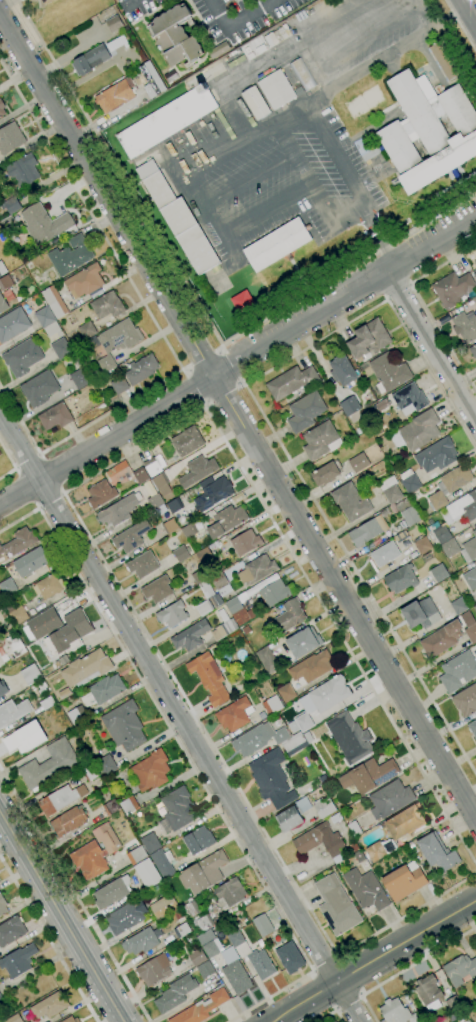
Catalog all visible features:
road: (475, 0)
building: (45, 2)
road: (469, 11)
building: (108, 14)
road: (238, 20)
building: (114, 24)
road: (460, 26)
building: (175, 36)
building: (116, 43)
building: (218, 50)
building: (90, 60)
building: (445, 60)
building: (302, 74)
building: (170, 76)
building: (151, 79)
building: (276, 89)
building: (115, 95)
building: (256, 103)
road: (304, 104)
building: (2, 109)
road: (109, 113)
building: (167, 121)
building: (427, 131)
building: (10, 138)
building: (23, 171)
building: (10, 205)
building: (178, 219)
building: (8, 221)
building: (44, 224)
building: (277, 244)
building: (70, 256)
building: (475, 262)
building: (2, 269)
building: (36, 277)
building: (84, 281)
building: (5, 282)
building: (453, 289)
road: (400, 294)
road: (194, 299)
building: (474, 299)
building: (54, 302)
building: (241, 302)
building: (2, 304)
building: (107, 305)
road: (424, 306)
building: (44, 316)
road: (152, 320)
building: (13, 324)
building: (465, 326)
building: (52, 329)
building: (87, 330)
building: (368, 339)
building: (113, 342)
road: (432, 345)
building: (61, 348)
building: (473, 350)
road: (202, 357)
building: (22, 358)
road: (237, 363)
road: (233, 365)
building: (141, 369)
building: (342, 370)
building: (389, 372)
building: (79, 379)
building: (292, 382)
building: (119, 385)
building: (39, 389)
road: (193, 389)
road: (224, 396)
building: (409, 399)
building: (382, 405)
building: (350, 406)
building: (305, 412)
road: (237, 415)
building: (55, 416)
building: (420, 430)
road: (273, 433)
building: (321, 440)
building: (187, 441)
building: (436, 455)
road: (27, 460)
building: (154, 462)
building: (358, 462)
road: (13, 463)
building: (197, 471)
building: (325, 474)
building: (369, 474)
building: (140, 475)
building: (409, 481)
building: (161, 484)
building: (449, 485)
building: (391, 489)
building: (100, 494)
building: (213, 494)
road: (63, 495)
road: (50, 501)
building: (155, 501)
building: (350, 502)
building: (174, 506)
building: (393, 508)
building: (461, 509)
building: (162, 510)
building: (118, 511)
building: (407, 512)
building: (226, 521)
building: (170, 526)
building: (188, 530)
building: (368, 530)
building: (439, 535)
building: (131, 536)
building: (400, 537)
building: (202, 540)
building: (19, 542)
building: (245, 543)
building: (422, 545)
building: (448, 547)
building: (181, 554)
building: (384, 554)
building: (204, 556)
building: (31, 562)
building: (142, 565)
building: (256, 570)
building: (439, 573)
building: (200, 576)
building: (401, 579)
building: (470, 579)
building: (218, 581)
building: (48, 586)
building: (7, 587)
building: (157, 589)
building: (224, 590)
building: (273, 590)
building: (208, 600)
building: (458, 606)
building: (475, 607)
building: (263, 609)
building: (239, 611)
building: (172, 614)
building: (421, 614)
building: (18, 616)
building: (290, 616)
building: (44, 623)
building: (223, 626)
building: (469, 626)
building: (71, 630)
building: (245, 630)
building: (191, 636)
building: (441, 639)
building: (303, 642)
building: (15, 645)
building: (267, 660)
building: (311, 667)
building: (86, 669)
building: (458, 671)
building: (31, 674)
building: (209, 678)
building: (55, 680)
building: (41, 686)
building: (3, 689)
building: (103, 690)
building: (64, 693)
building: (286, 693)
building: (329, 693)
building: (466, 700)
building: (47, 703)
building: (272, 705)
building: (249, 710)
building: (13, 712)
building: (77, 715)
building: (233, 715)
road: (181, 716)
building: (304, 722)
building: (124, 726)
building: (473, 728)
building: (308, 737)
building: (24, 738)
building: (349, 738)
building: (258, 739)
building: (294, 744)
road: (189, 762)
building: (48, 765)
building: (106, 765)
building: (151, 771)
building: (90, 772)
building: (369, 775)
building: (271, 779)
building: (60, 799)
building: (390, 799)
building: (300, 804)
building: (129, 806)
building: (111, 807)
building: (324, 807)
building: (176, 810)
building: (289, 818)
building: (335, 818)
building: (68, 821)
building: (405, 821)
building: (354, 828)
building: (198, 840)
building: (319, 840)
building: (150, 843)
building: (353, 847)
building: (380, 850)
building: (437, 852)
building: (136, 855)
building: (359, 856)
building: (89, 860)
building: (163, 863)
building: (203, 872)
building: (147, 873)
building: (404, 881)
building: (365, 889)
building: (111, 892)
building: (229, 893)
road: (73, 898)
building: (162, 905)
building: (336, 905)
building: (2, 906)
building: (192, 908)
building: (178, 915)
road: (62, 916)
building: (126, 917)
building: (205, 923)
building: (262, 925)
building: (181, 930)
building: (11, 931)
road: (49, 939)
building: (140, 942)
building: (240, 944)
building: (210, 949)
building: (197, 957)
building: (290, 958)
road: (374, 959)
building: (18, 961)
building: (261, 964)
road: (325, 964)
building: (205, 969)
building: (154, 970)
road: (406, 970)
building: (460, 970)
building: (235, 972)
building: (175, 993)
building: (428, 993)
building: (0, 997)
building: (453, 1004)
road: (348, 1005)
building: (49, 1006)
building: (201, 1008)
building: (397, 1012)
road: (332, 1014)
building: (14, 1018)
building: (70, 1019)

